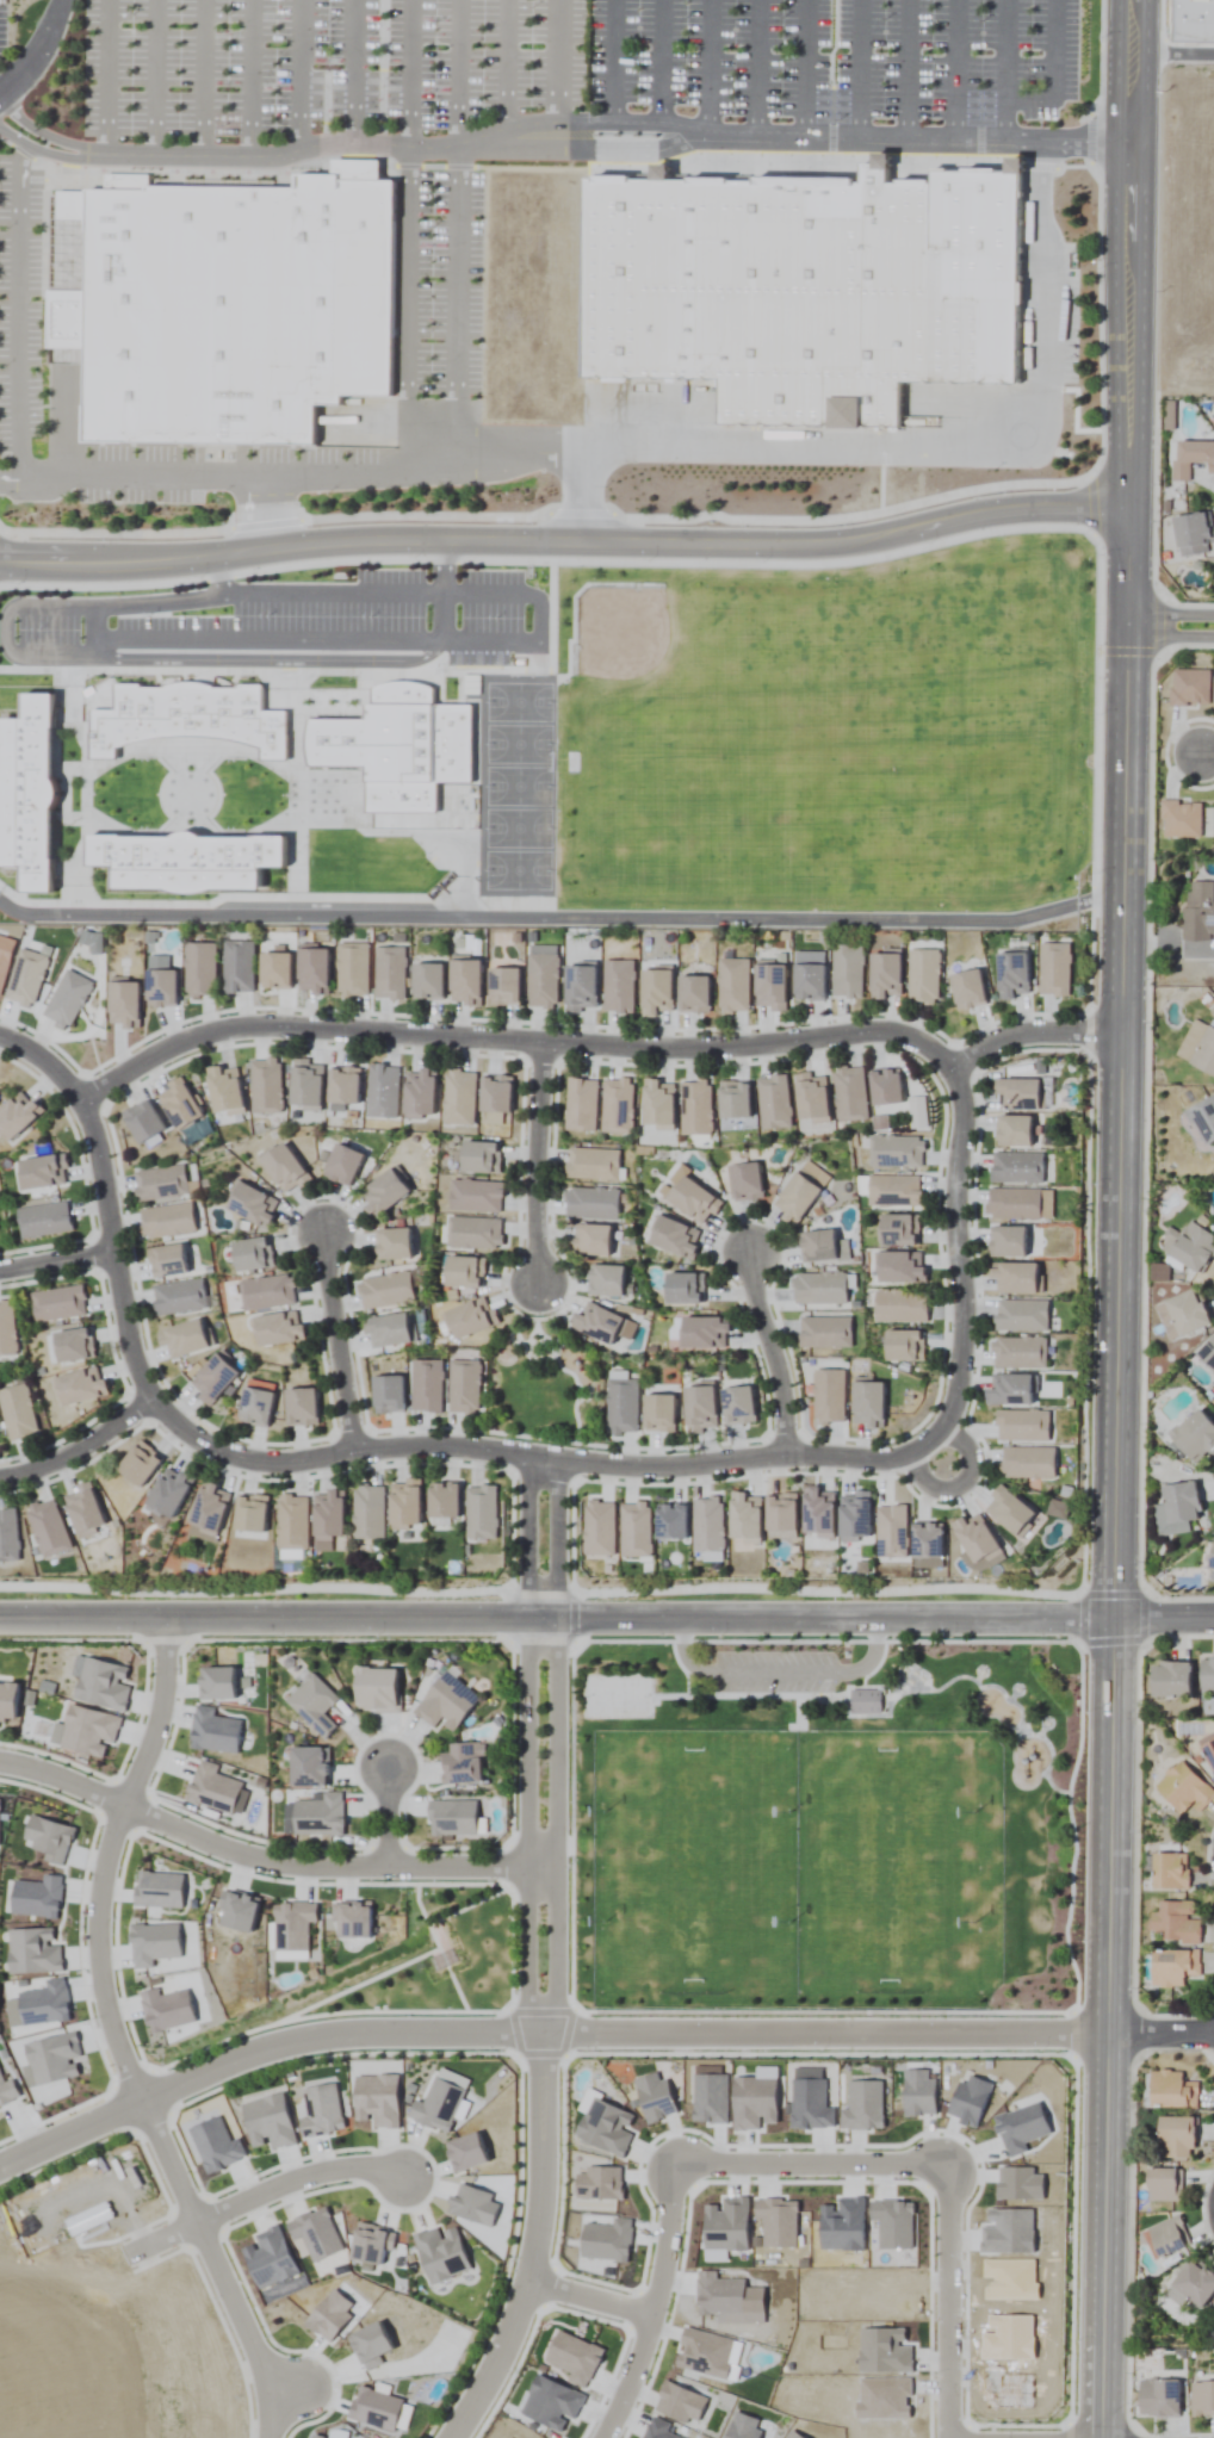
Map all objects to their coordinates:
building: (1194, 21)
road: (1138, 27)
road: (39, 51)
road: (1176, 56)
road: (757, 68)
road: (614, 124)
road: (94, 154)
building: (776, 285)
building: (235, 314)
road: (900, 447)
building: (1191, 458)
road: (388, 473)
road: (578, 495)
road: (266, 511)
building: (1193, 535)
road: (568, 542)
road: (217, 572)
road: (147, 595)
road: (1172, 609)
road: (1172, 633)
building: (1190, 688)
road: (1203, 757)
building: (1183, 819)
building: (1198, 911)
building: (239, 966)
building: (199, 969)
building: (352, 969)
building: (1054, 969)
building: (274, 970)
building: (311, 970)
building: (389, 972)
building: (847, 972)
building: (885, 974)
building: (1011, 974)
building: (923, 975)
building: (541, 976)
building: (427, 980)
building: (464, 981)
building: (807, 981)
building: (732, 985)
building: (503, 986)
building: (618, 986)
building: (769, 986)
building: (160, 988)
building: (580, 988)
building: (966, 990)
building: (656, 991)
building: (693, 994)
building: (123, 1004)
road: (1123, 1044)
road: (605, 1048)
building: (1198, 1048)
building: (305, 1085)
building: (265, 1086)
building: (342, 1086)
building: (885, 1087)
building: (223, 1088)
building: (383, 1091)
building: (419, 1093)
building: (495, 1094)
building: (850, 1094)
building: (1020, 1094)
building: (459, 1098)
building: (811, 1098)
building: (733, 1100)
building: (774, 1103)
building: (179, 1104)
building: (581, 1105)
building: (618, 1105)
building: (657, 1105)
building: (696, 1108)
building: (17, 1115)
building: (1203, 1119)
building: (142, 1122)
building: (1014, 1130)
building: (896, 1152)
building: (479, 1156)
building: (342, 1165)
building: (591, 1165)
road: (535, 1167)
building: (1016, 1167)
building: (284, 1168)
building: (42, 1172)
building: (744, 1181)
building: (160, 1184)
building: (801, 1190)
building: (893, 1192)
building: (384, 1193)
building: (475, 1196)
road: (105, 1201)
building: (693, 1201)
building: (1012, 1203)
building: (590, 1204)
building: (252, 1205)
crop: (607, 1218)
building: (43, 1220)
building: (167, 1221)
building: (899, 1229)
building: (473, 1233)
building: (674, 1237)
building: (591, 1240)
building: (1006, 1241)
building: (392, 1243)
building: (818, 1246)
building: (1194, 1247)
building: (252, 1254)
road: (959, 1258)
building: (167, 1260)
road: (56, 1261)
building: (899, 1266)
building: (464, 1271)
building: (1014, 1277)
building: (605, 1280)
building: (683, 1288)
building: (819, 1288)
building: (385, 1290)
building: (266, 1292)
building: (178, 1297)
building: (58, 1303)
building: (900, 1307)
building: (1021, 1315)
building: (1181, 1315)
building: (471, 1317)
building: (596, 1325)
building: (278, 1328)
building: (7, 1329)
building: (388, 1330)
building: (704, 1332)
building: (824, 1332)
building: (182, 1339)
road: (337, 1344)
building: (73, 1345)
building: (903, 1345)
road: (769, 1352)
building: (1018, 1352)
building: (1207, 1354)
building: (212, 1378)
building: (426, 1385)
building: (80, 1387)
building: (464, 1387)
building: (1010, 1389)
building: (386, 1394)
building: (828, 1396)
building: (867, 1403)
building: (621, 1406)
building: (737, 1406)
building: (254, 1407)
building: (301, 1407)
building: (699, 1408)
building: (18, 1413)
building: (658, 1413)
building: (1022, 1425)
building: (1194, 1435)
road: (79, 1447)
road: (532, 1458)
building: (1027, 1462)
building: (138, 1463)
road: (960, 1481)
building: (168, 1493)
building: (442, 1501)
building: (404, 1503)
building: (83, 1509)
building: (209, 1509)
building: (1176, 1509)
building: (368, 1512)
building: (481, 1512)
building: (782, 1513)
building: (819, 1513)
building: (1009, 1513)
building: (249, 1514)
building: (328, 1515)
building: (747, 1518)
building: (856, 1518)
building: (292, 1522)
building: (48, 1528)
building: (8, 1537)
road: (545, 1539)
building: (1210, 1565)
road: (557, 1619)
road: (1165, 1619)
building: (1207, 1676)
building: (1170, 1680)
building: (377, 1689)
building: (446, 1702)
building: (865, 1702)
building: (6, 1704)
building: (314, 1704)
building: (1209, 1752)
building: (463, 1763)
building: (309, 1767)
road: (62, 1780)
building: (1183, 1789)
road: (388, 1817)
road: (527, 1825)
road: (557, 1825)
park: (823, 1830)
road: (334, 1866)
building: (1170, 1872)
building: (1175, 1923)
building: (1173, 1967)
road: (1162, 2031)
road: (854, 2033)
road: (118, 2040)
road: (286, 2045)
building: (1171, 2091)
building: (1176, 2138)
road: (679, 2176)
road: (298, 2179)
building: (1164, 2185)
building: (76, 2232)
road: (1107, 2235)
building: (1167, 2237)
road: (534, 2245)
building: (1195, 2283)
road: (591, 2296)
road: (946, 2307)
building: (1158, 2399)
building: (1202, 2399)

